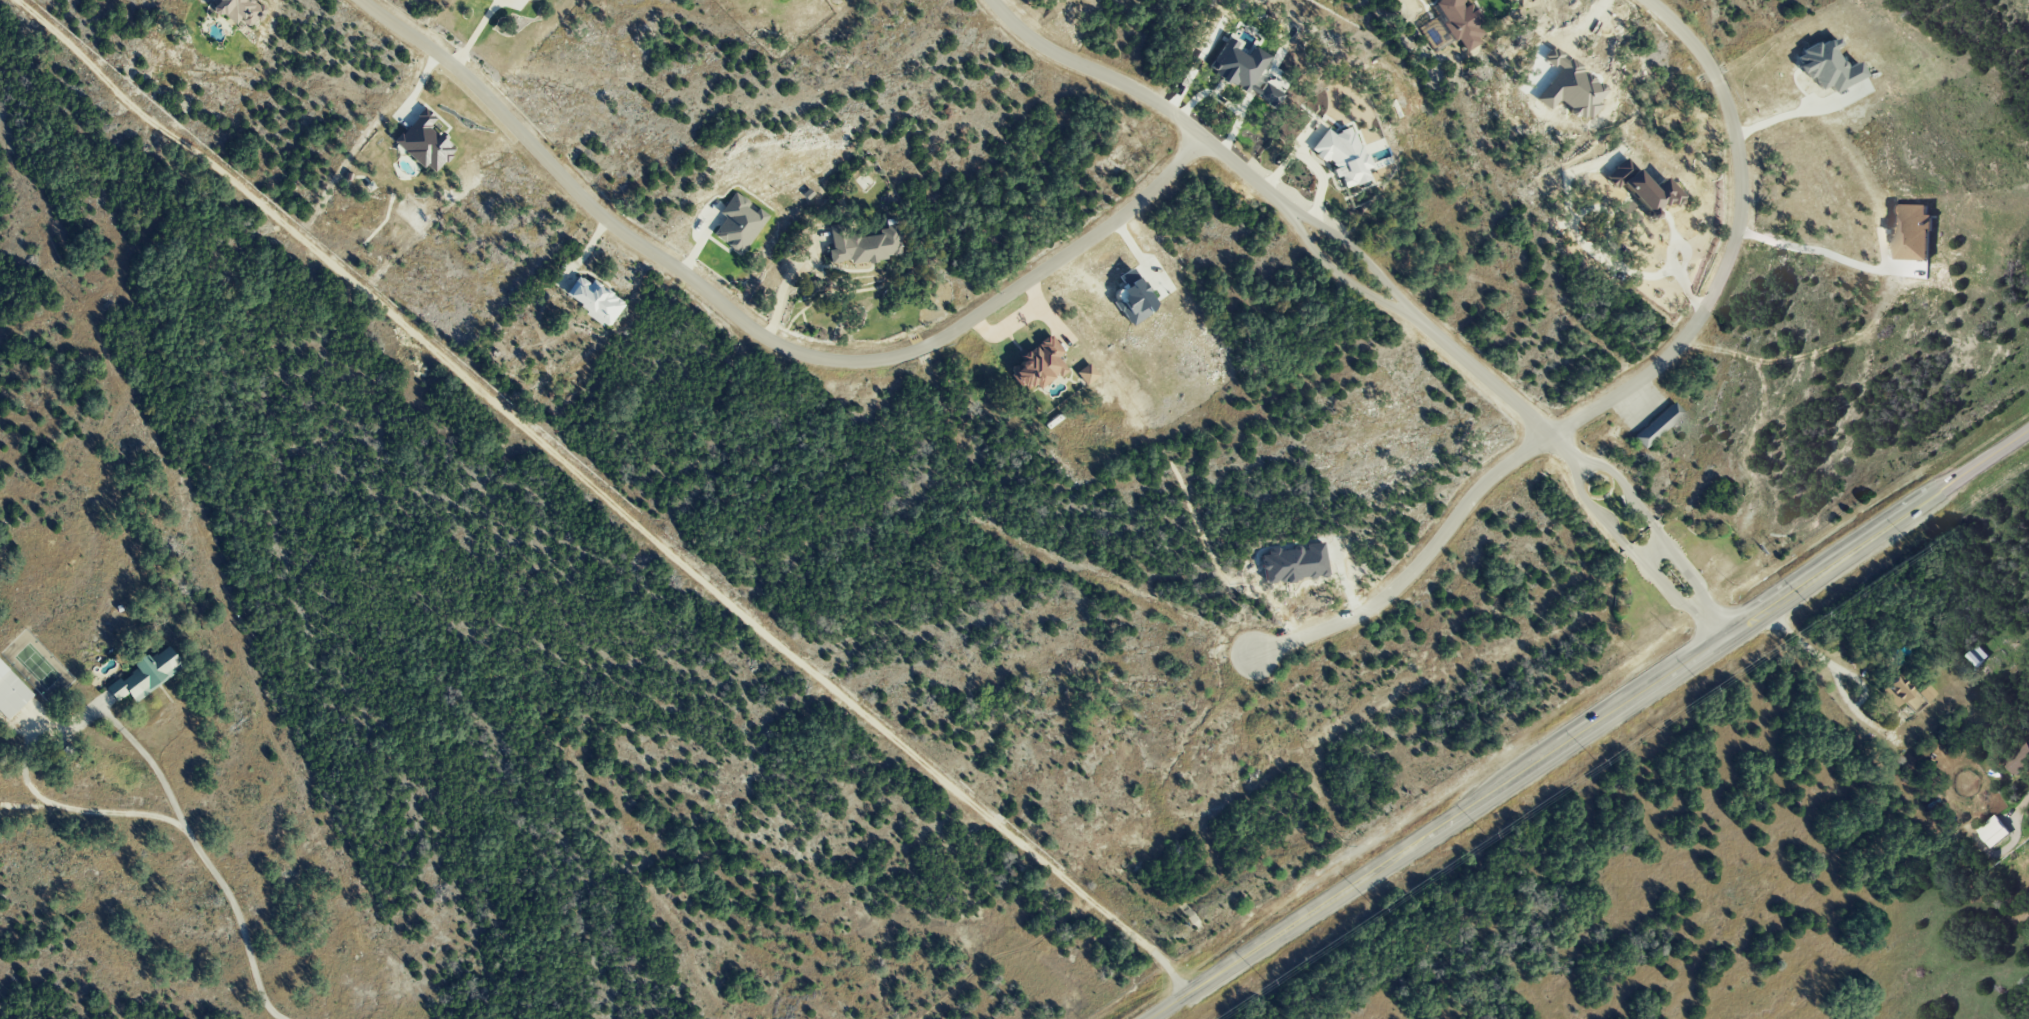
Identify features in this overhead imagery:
building: (239, 10)
building: (1459, 21)
road: (477, 33)
building: (1827, 65)
road: (1144, 95)
road: (1787, 117)
building: (423, 141)
building: (1342, 156)
building: (1642, 187)
building: (738, 222)
building: (1910, 231)
road: (1817, 248)
road: (1358, 252)
road: (1338, 275)
road: (1650, 275)
road: (780, 291)
building: (593, 299)
road: (757, 334)
road: (1802, 355)
building: (1038, 364)
building: (1086, 373)
road: (1492, 387)
road: (1620, 391)
building: (1657, 424)
road: (1624, 491)
road: (604, 494)
road: (1596, 516)
road: (1649, 551)
road: (1684, 575)
road: (1669, 589)
road: (1712, 627)
building: (1977, 655)
road: (1839, 670)
building: (145, 674)
building: (1925, 692)
building: (1899, 693)
building: (11, 694)
road: (1590, 727)
road: (43, 741)
building: (2019, 759)
road: (23, 803)
road: (2021, 803)
building: (1993, 831)
road: (238, 928)
road: (1001, 955)

